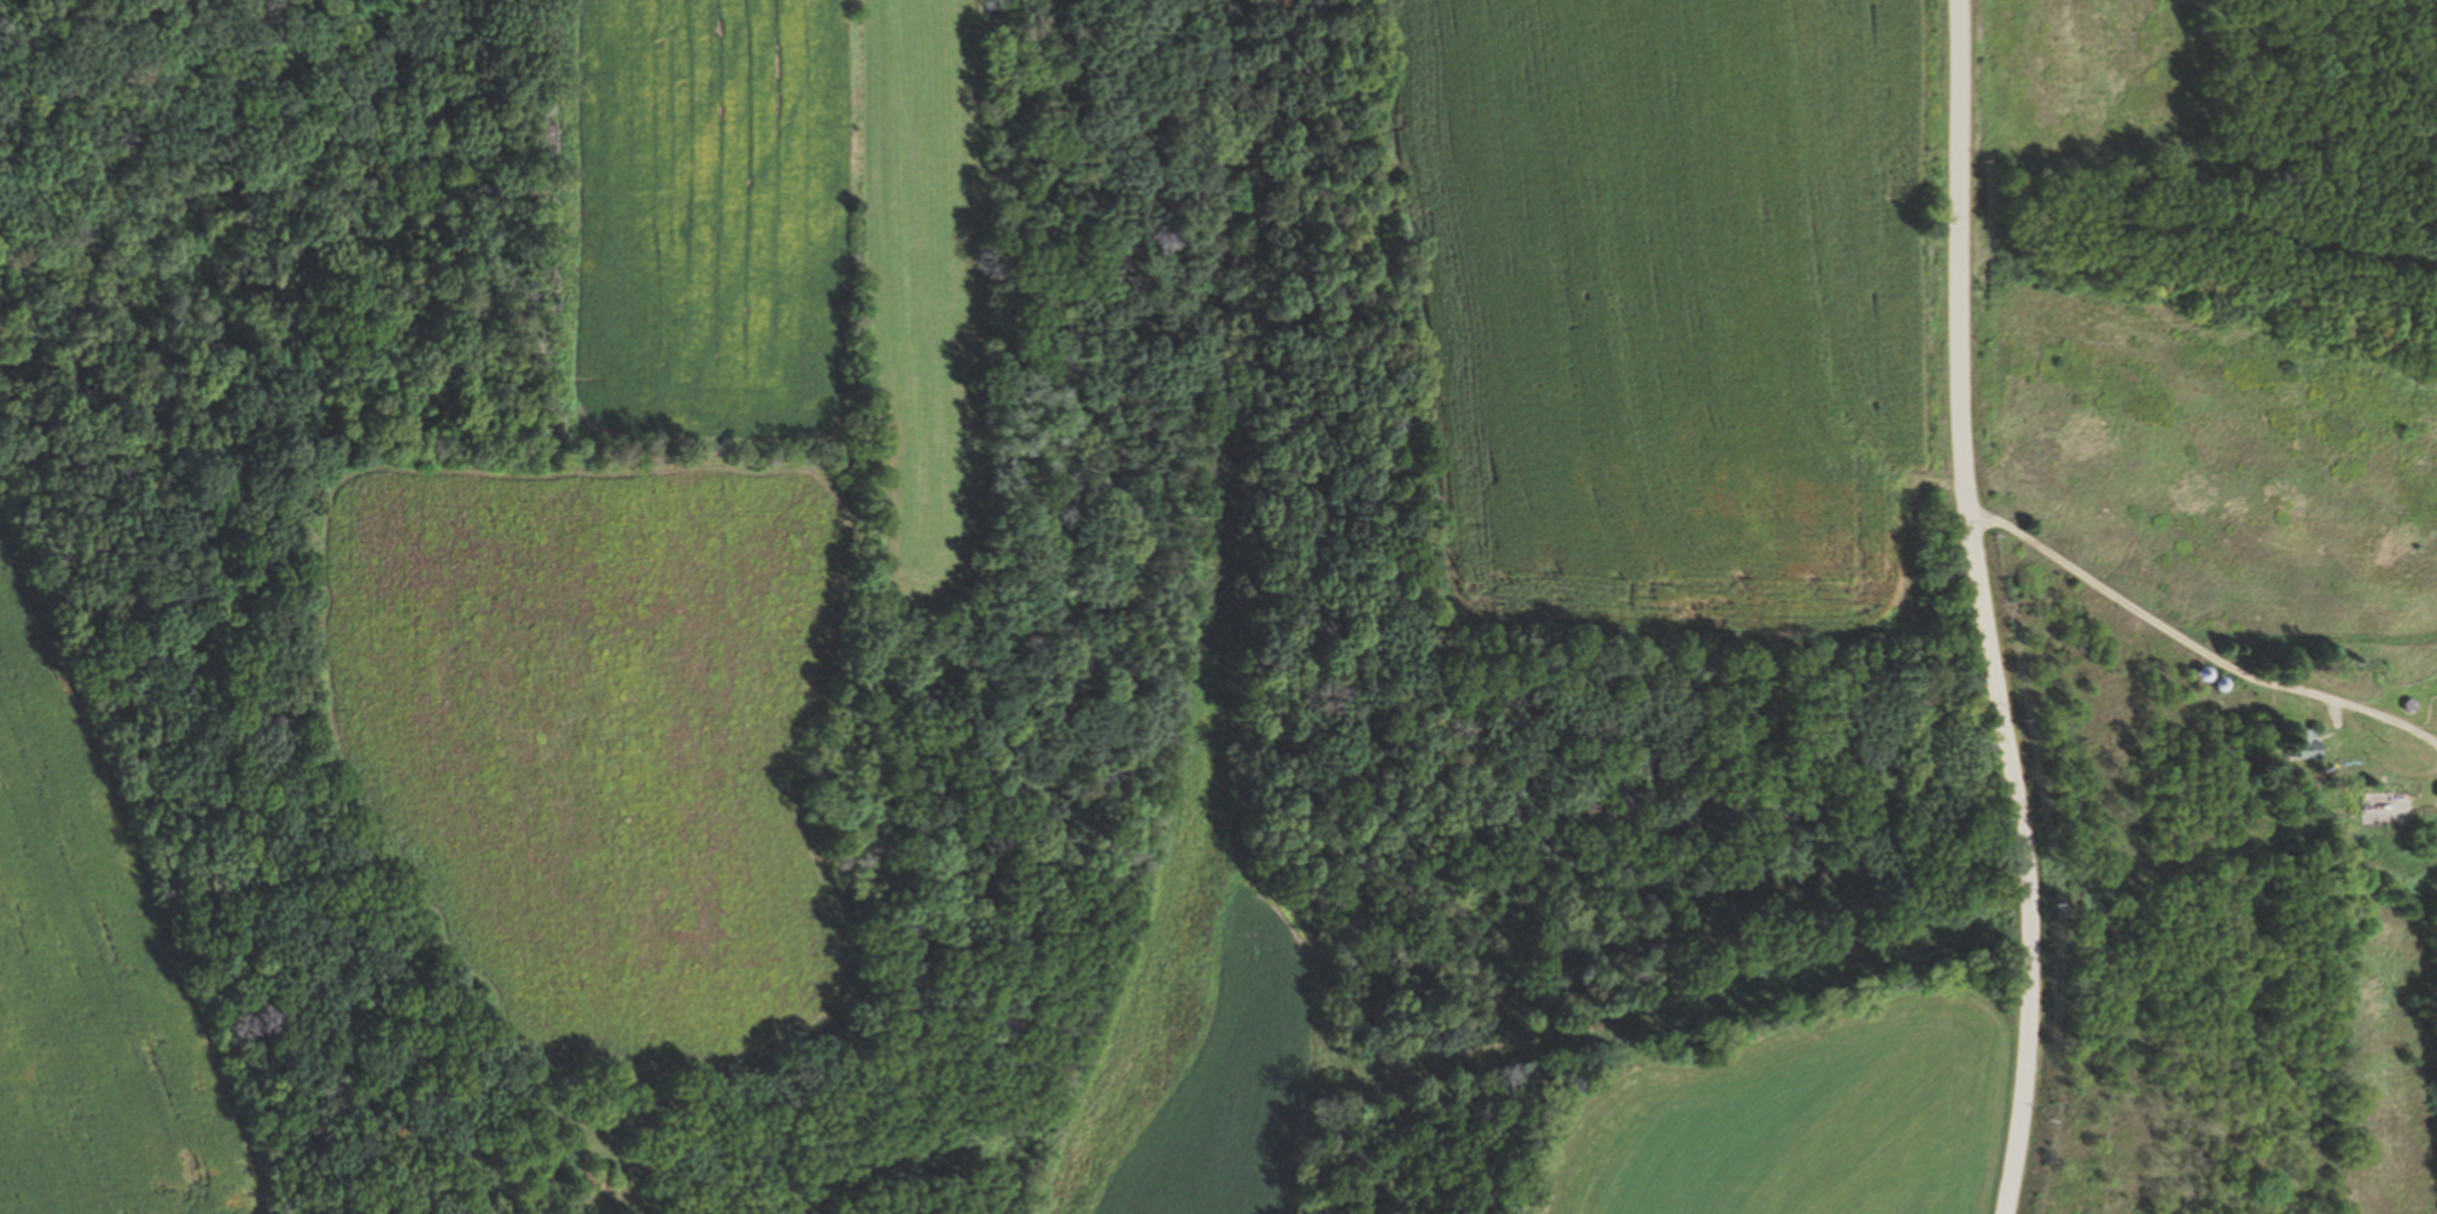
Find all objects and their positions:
road: (1984, 608)
road: (2155, 623)
building: (2307, 747)

